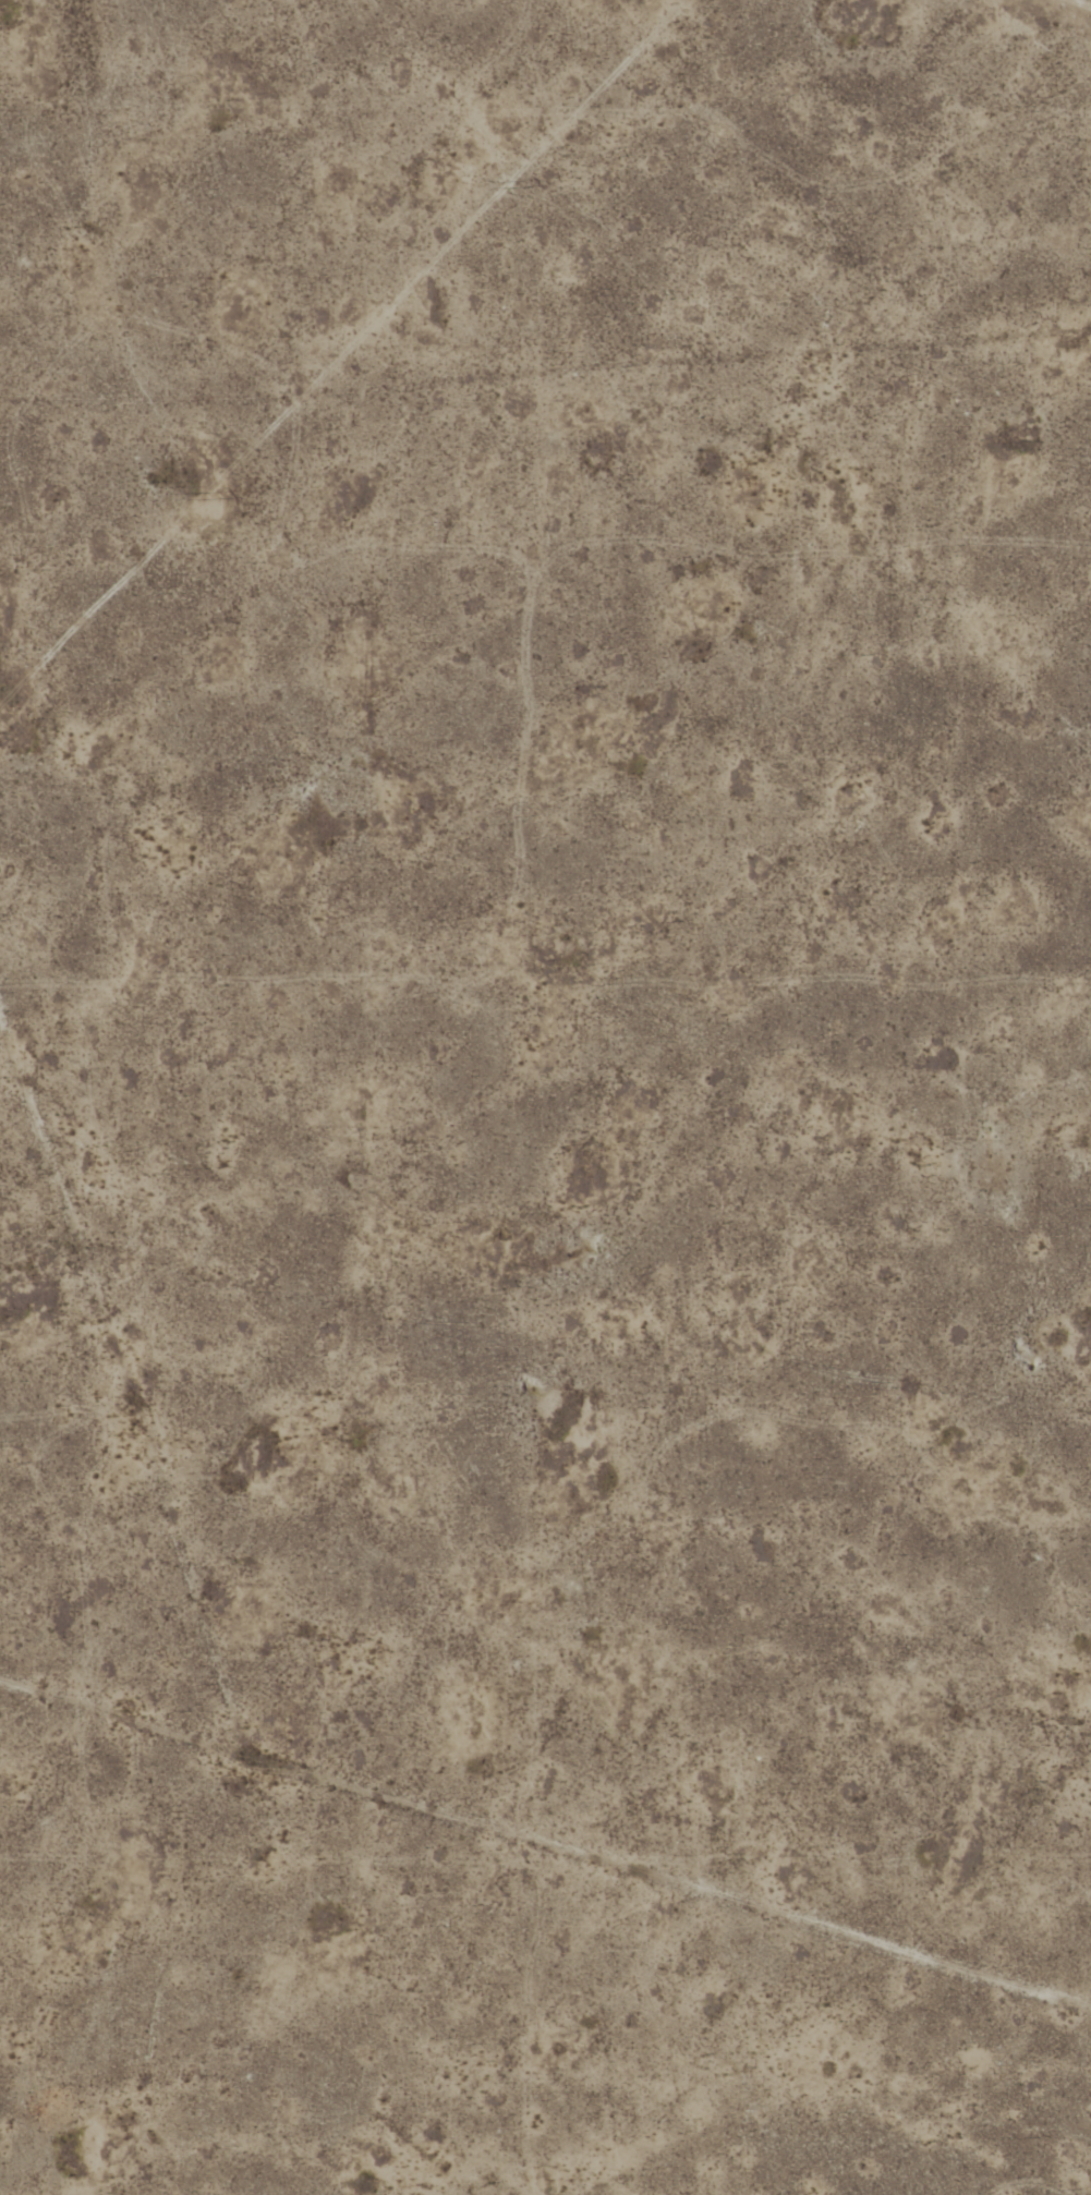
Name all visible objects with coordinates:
road: (346, 1658)

